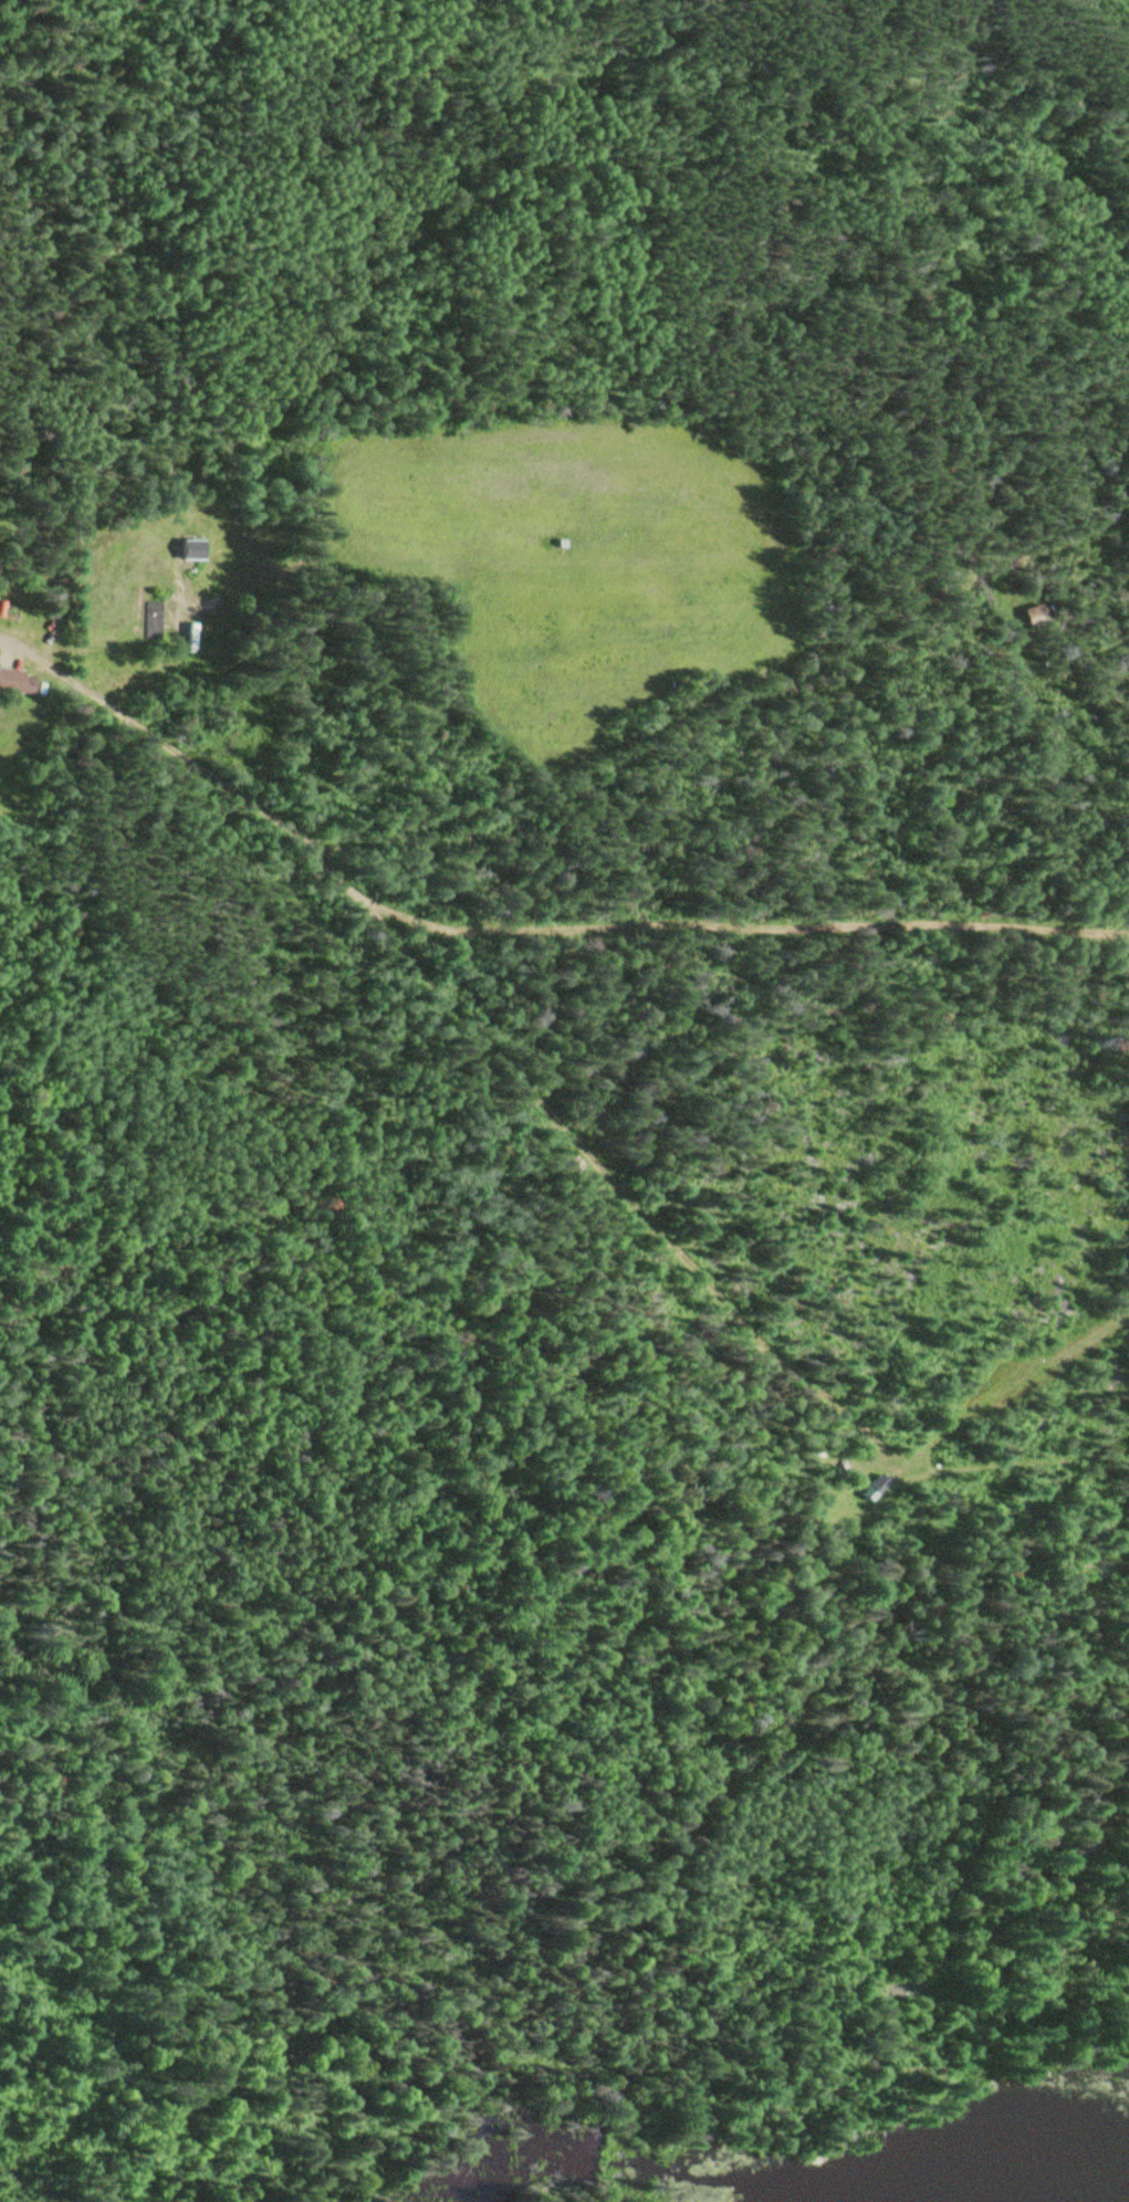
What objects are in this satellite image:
building: (185, 547)
building: (1031, 614)
building: (147, 618)
building: (9, 678)
road: (554, 773)
road: (701, 912)
building: (874, 1487)
river: (1028, 2195)

